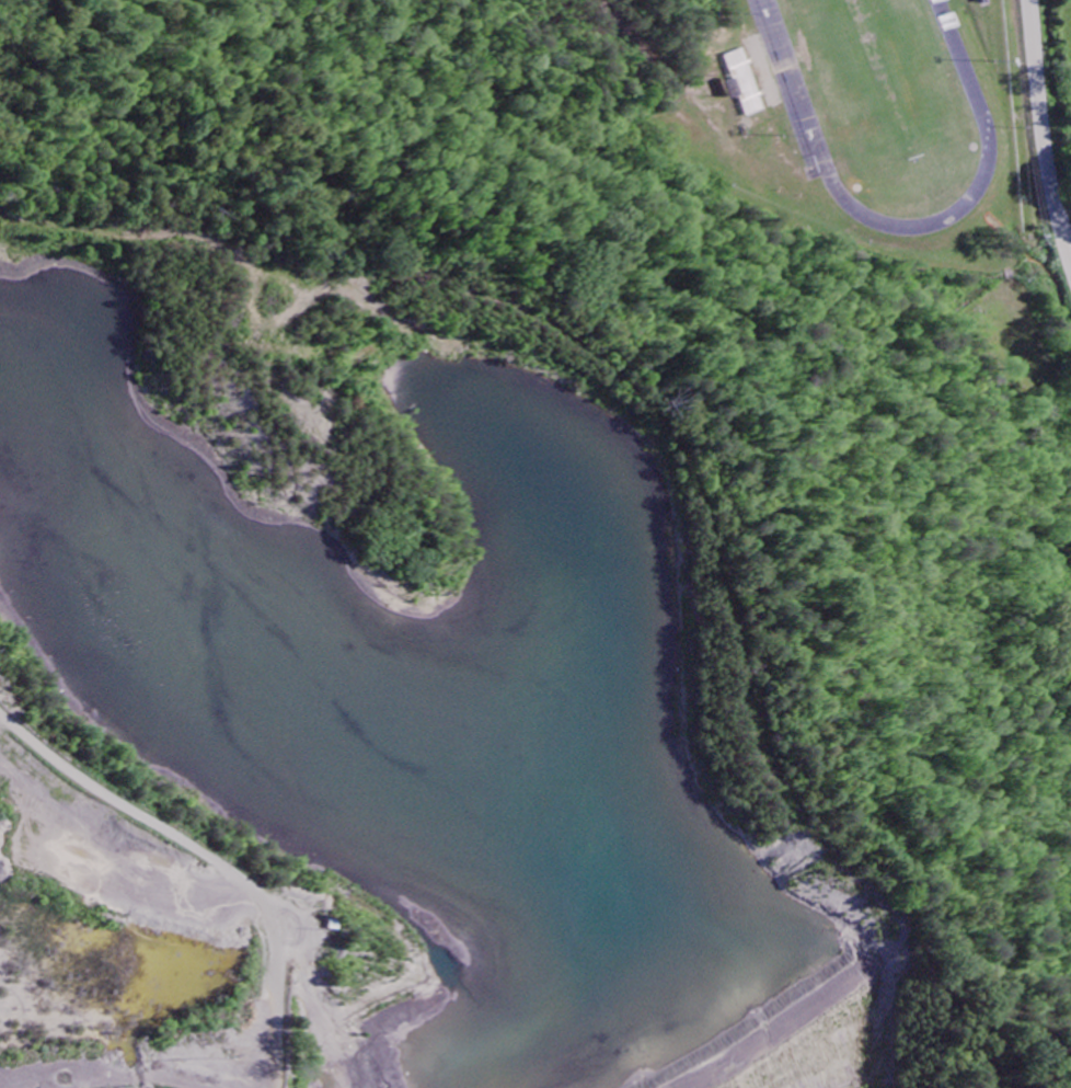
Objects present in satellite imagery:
building: (746, 84)
road: (1046, 126)
road: (212, 858)

